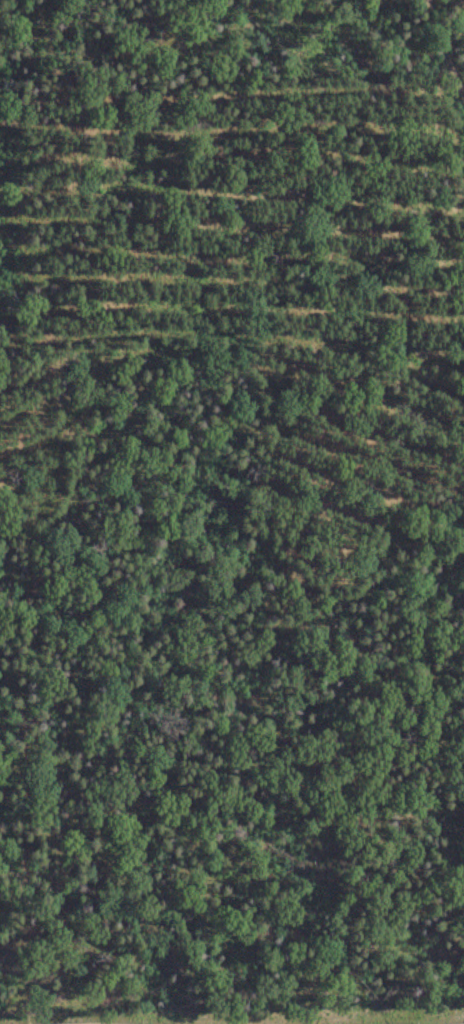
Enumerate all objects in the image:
road: (232, 1014)

